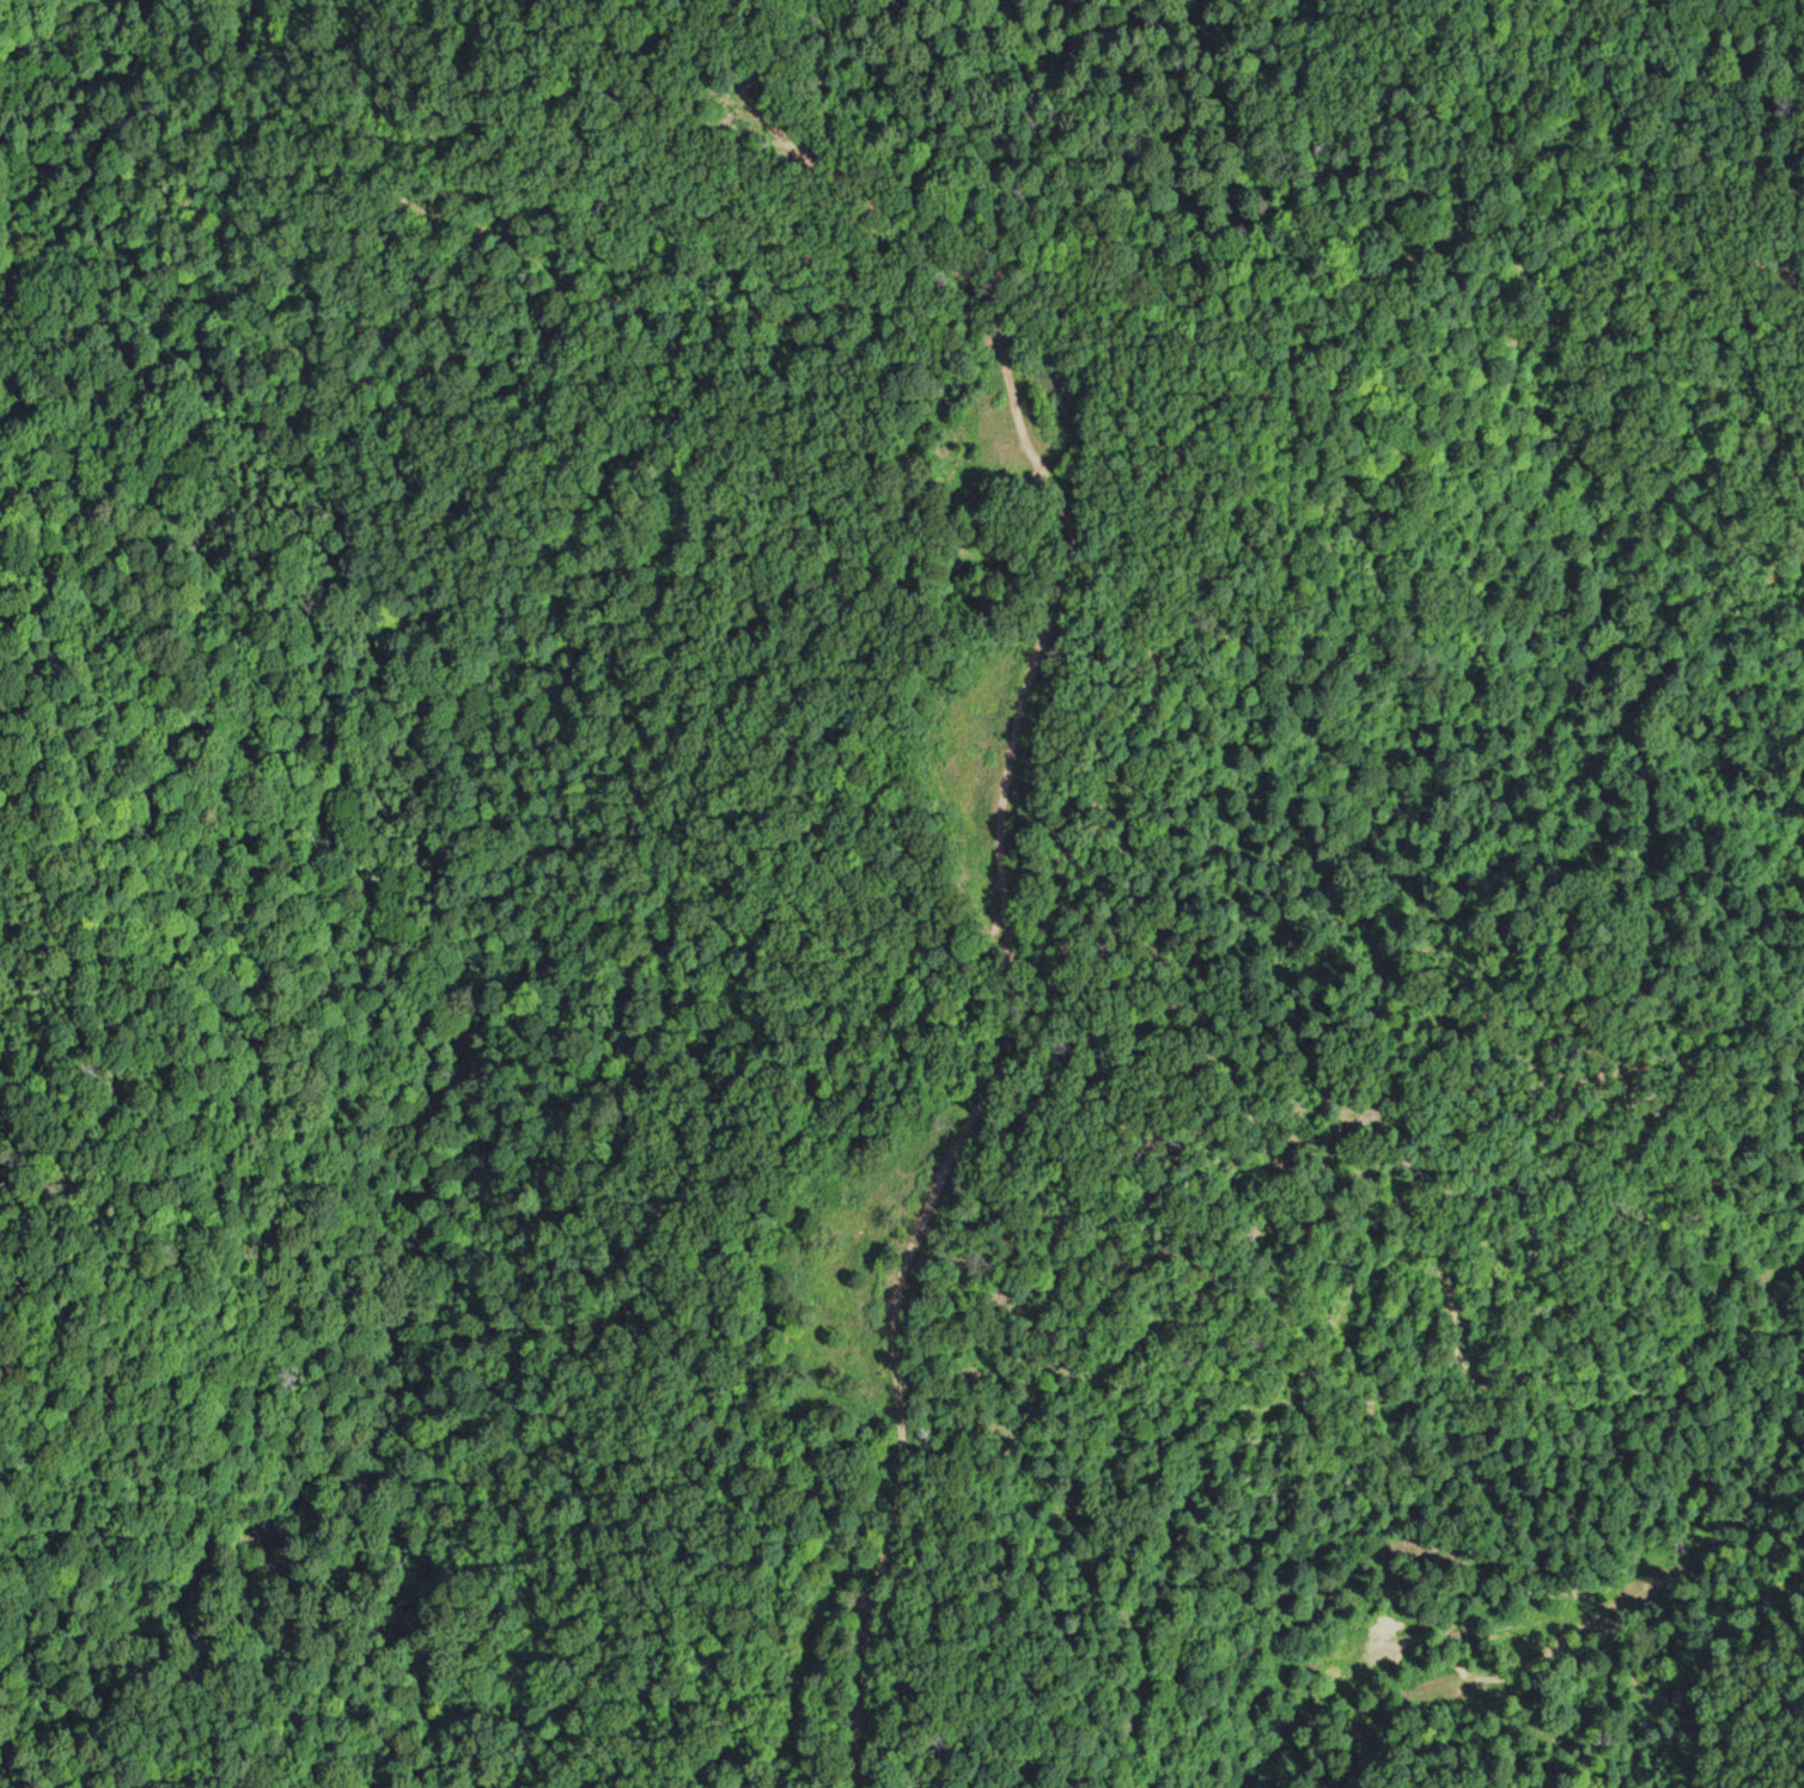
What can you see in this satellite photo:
road: (1067, 848)

